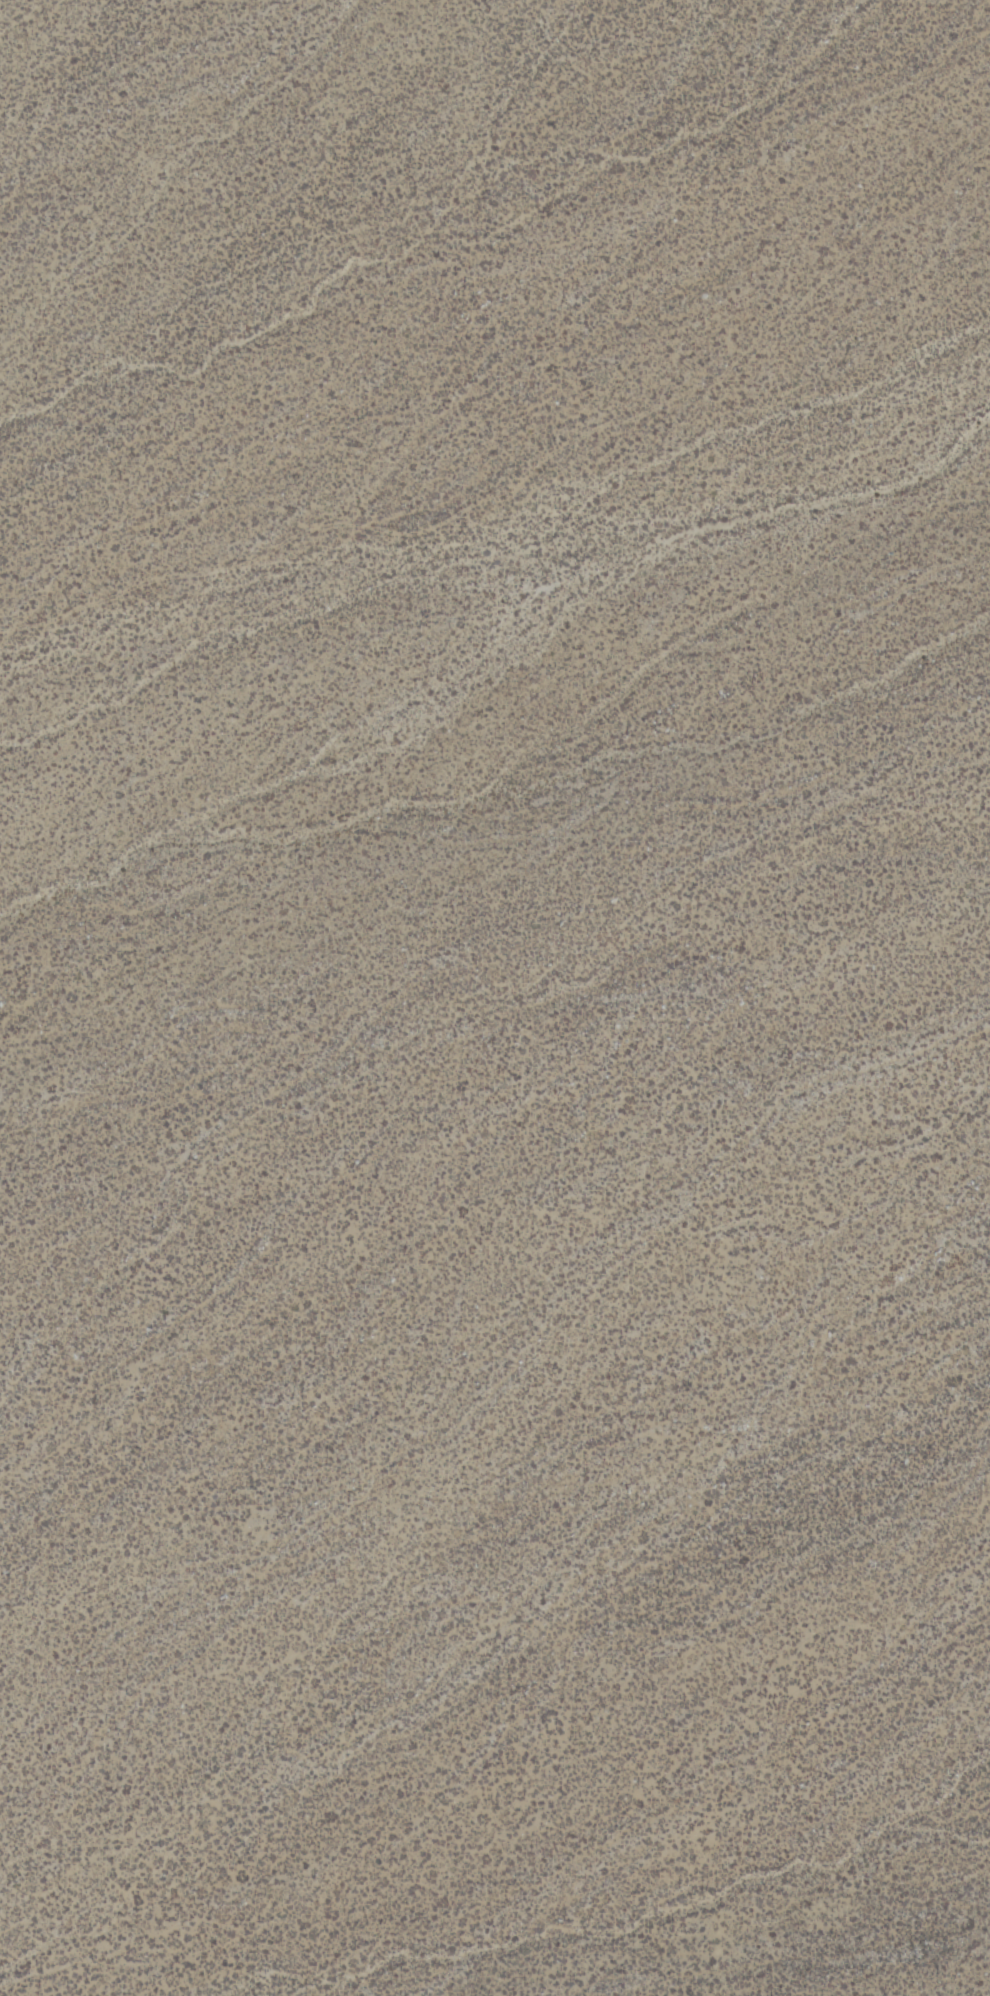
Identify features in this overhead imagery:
road: (529, 472)

